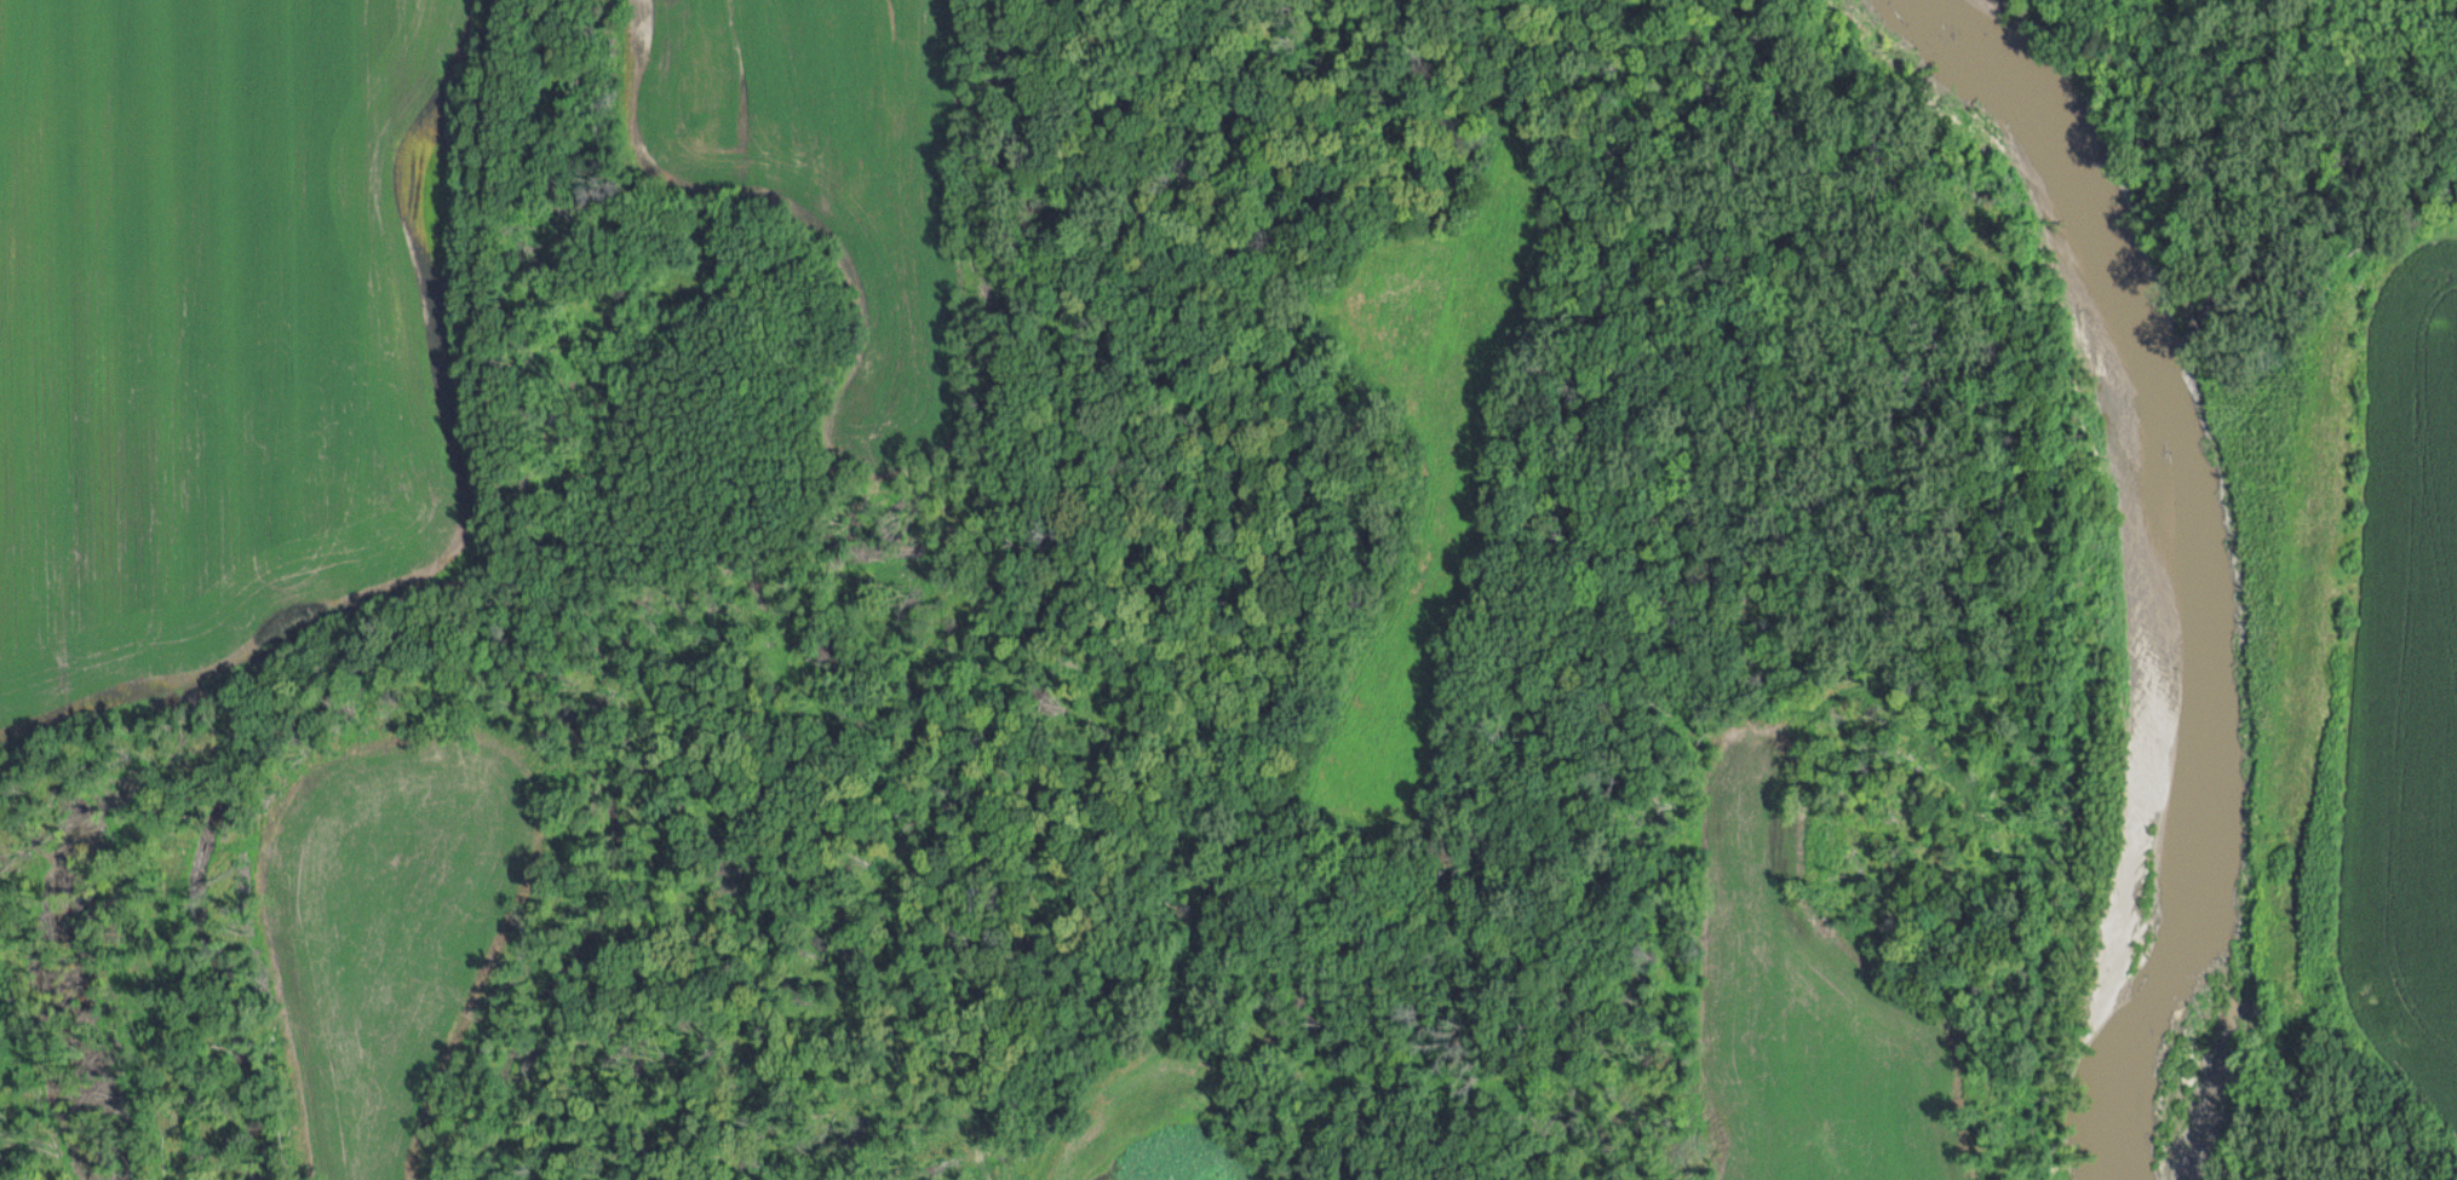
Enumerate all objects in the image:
river: (2142, 568)

